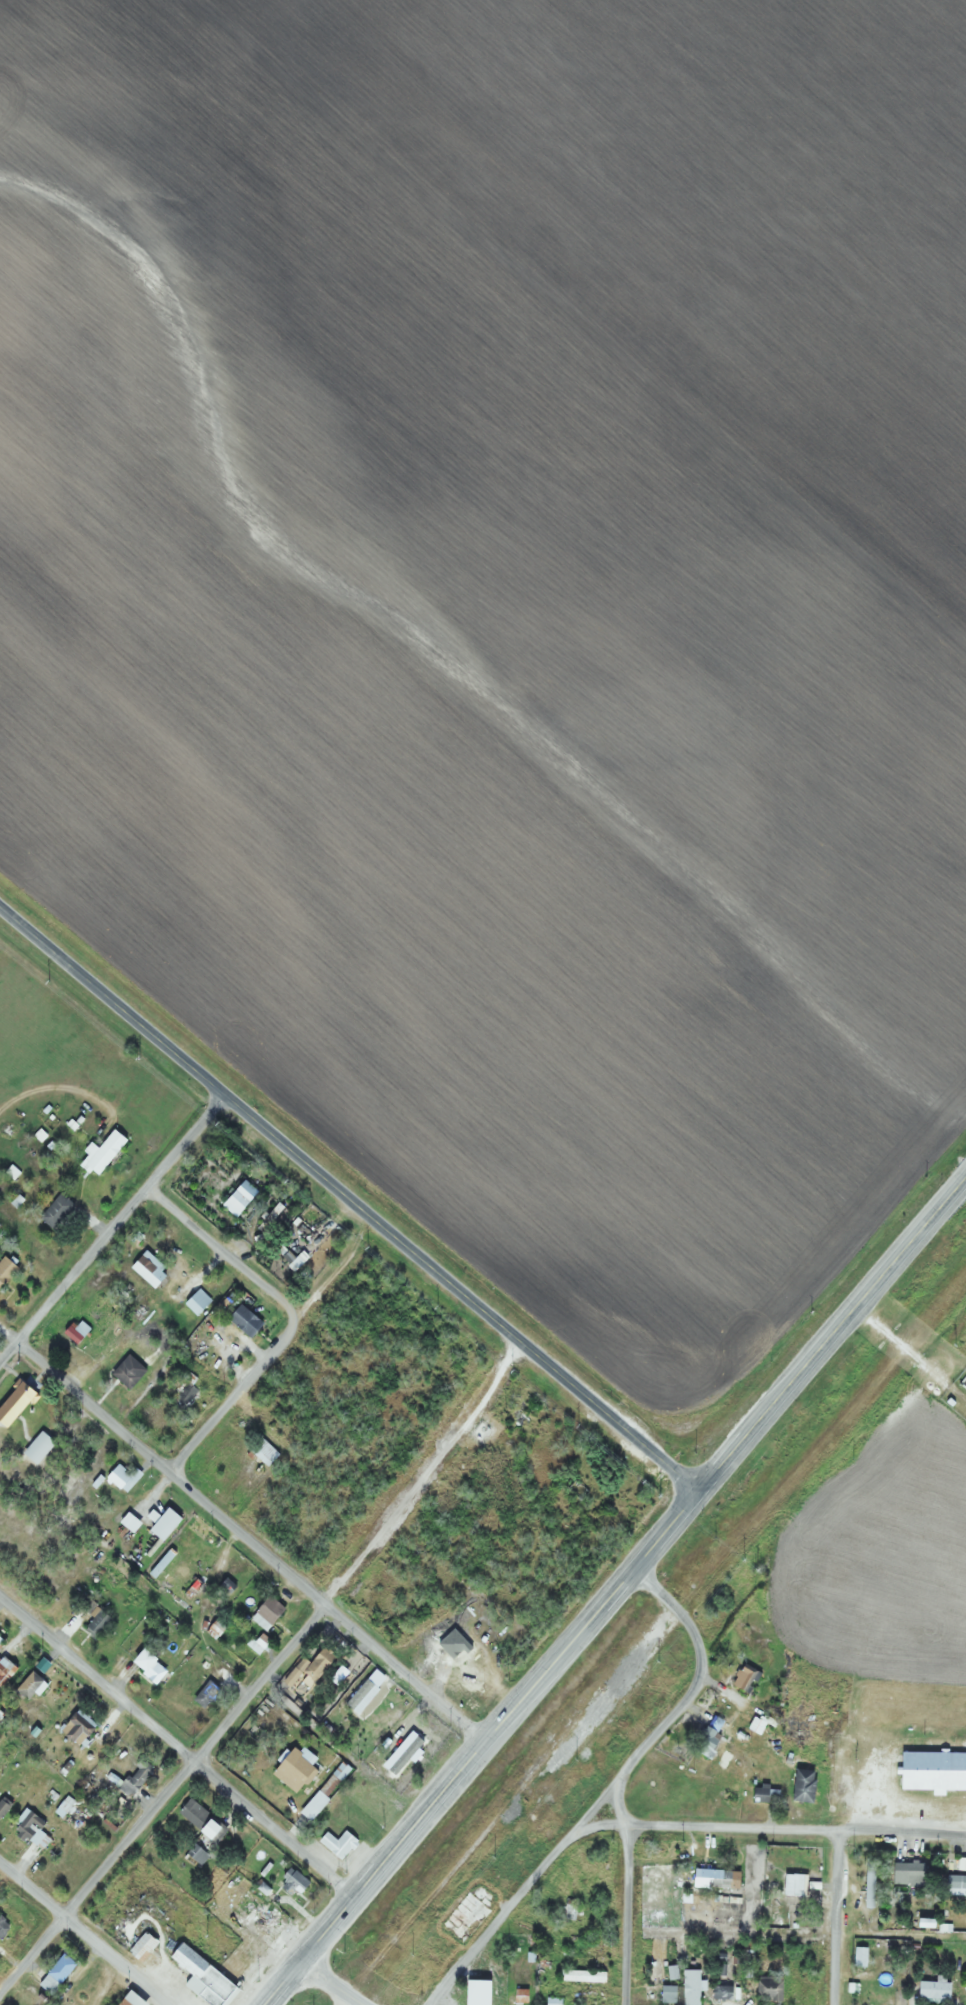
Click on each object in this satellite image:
building: (99, 1153)
road: (348, 1199)
building: (232, 1203)
building: (54, 1211)
building: (267, 1216)
road: (111, 1227)
building: (5, 1270)
building: (195, 1301)
road: (288, 1318)
building: (241, 1320)
road: (830, 1337)
building: (217, 1354)
building: (126, 1372)
building: (185, 1395)
building: (13, 1402)
building: (517, 1416)
building: (154, 1421)
building: (36, 1448)
building: (261, 1451)
building: (116, 1477)
building: (160, 1524)
road: (250, 1541)
building: (264, 1613)
building: (95, 1624)
railway: (661, 1642)
building: (436, 1646)
building: (316, 1664)
building: (146, 1667)
building: (335, 1676)
building: (744, 1678)
building: (28, 1687)
building: (204, 1694)
building: (2, 1711)
building: (356, 1720)
building: (754, 1725)
road: (498, 1727)
building: (75, 1728)
building: (709, 1736)
road: (177, 1745)
building: (292, 1769)
building: (930, 1771)
building: (134, 1778)
building: (798, 1788)
road: (606, 1789)
building: (763, 1795)
road: (162, 1798)
road: (615, 1806)
building: (2, 1807)
building: (62, 1807)
building: (196, 1818)
road: (595, 1825)
building: (29, 1828)
road: (796, 1831)
building: (336, 1844)
building: (195, 1854)
building: (906, 1871)
building: (713, 1879)
building: (962, 1880)
building: (292, 1882)
building: (791, 1884)
building: (868, 1885)
building: (568, 1912)
road: (624, 1915)
road: (833, 1919)
building: (3, 1926)
road: (83, 1933)
building: (265, 1933)
building: (139, 1947)
building: (54, 1974)
building: (580, 1976)
building: (201, 1978)
road: (282, 1983)
road: (333, 1983)
building: (965, 1983)
building: (688, 1987)
building: (767, 1988)
building: (932, 1990)
building: (666, 1991)
building: (720, 1992)
building: (518, 1997)
road: (346, 1999)
building: (127, 2000)
building: (552, 2000)

